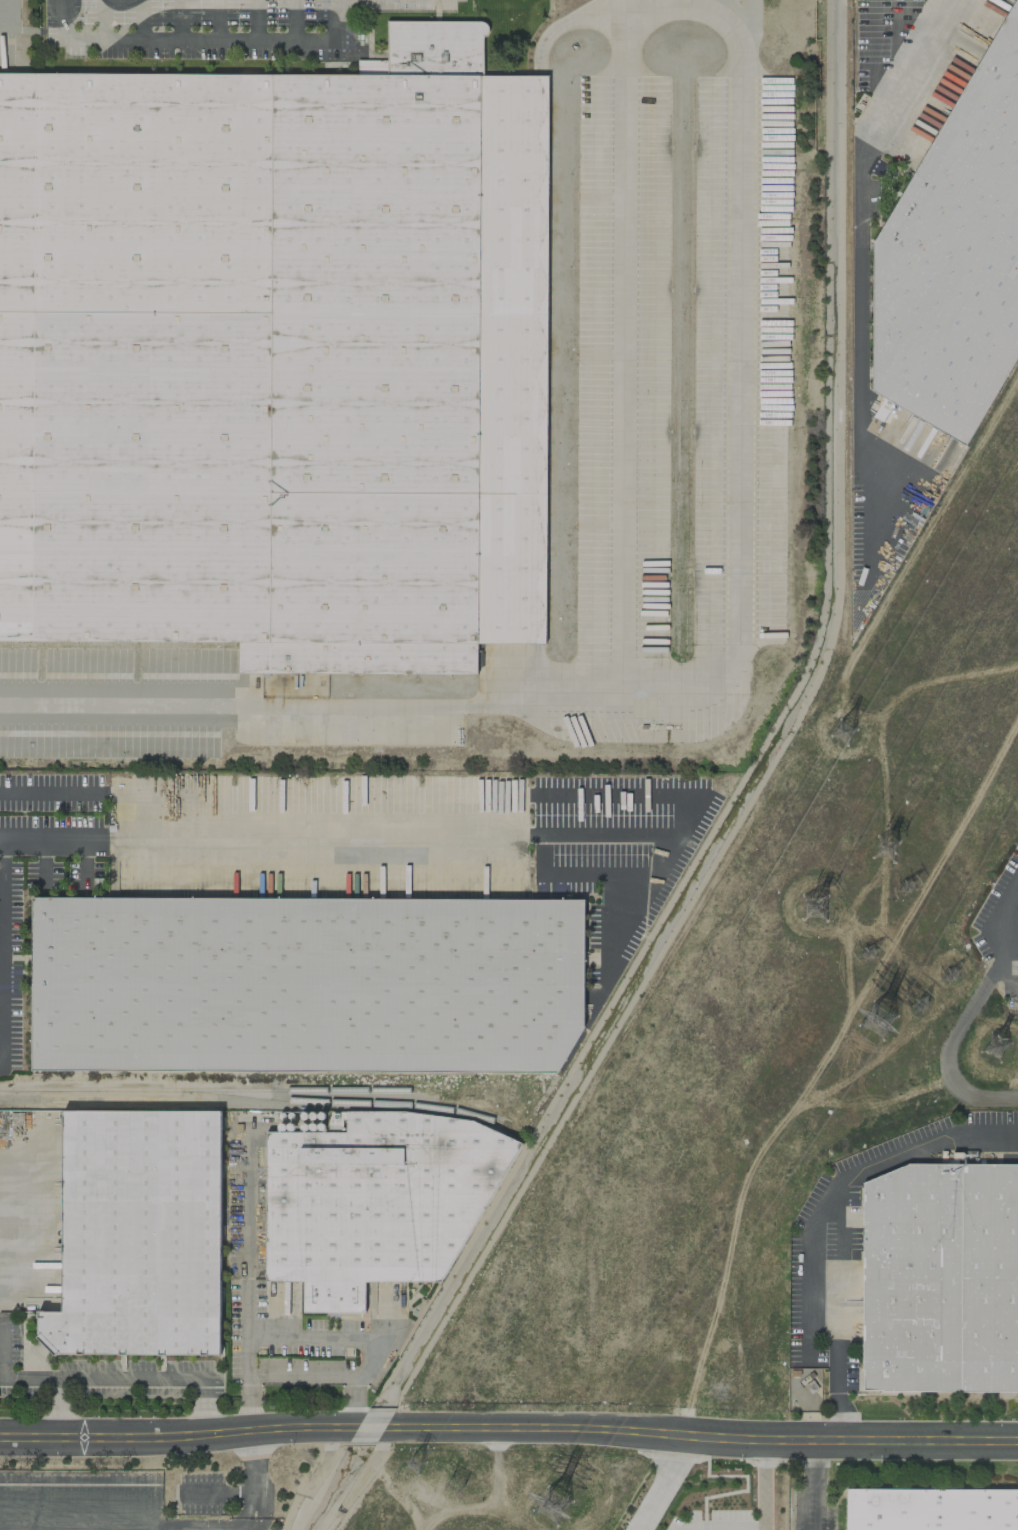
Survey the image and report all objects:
road: (61, 10)
road: (100, 21)
road: (139, 21)
road: (178, 21)
road: (217, 21)
road: (254, 21)
road: (290, 21)
road: (209, 42)
road: (911, 72)
road: (859, 253)
building: (954, 257)
road: (619, 296)
building: (277, 358)
building: (883, 406)
road: (691, 677)
power tower: (847, 728)
road: (32, 790)
road: (65, 835)
road: (339, 835)
power tower: (894, 850)
power tower: (902, 908)
power tower: (815, 910)
power tower: (874, 956)
road: (6, 966)
power tower: (958, 974)
building: (306, 981)
power tower: (925, 1009)
road: (966, 1011)
power tower: (892, 1019)
power tower: (993, 1045)
railway: (307, 1090)
railway: (254, 1096)
building: (375, 1201)
road: (838, 1216)
building: (138, 1233)
building: (940, 1278)
road: (305, 1332)
road: (305, 1372)
road: (3, 1377)
road: (124, 1378)
road: (373, 1426)
road: (178, 1436)
road: (703, 1437)
road: (252, 1460)
power tower: (441, 1473)
road: (652, 1482)
road: (765, 1485)
road: (812, 1485)
power tower: (477, 1487)
road: (215, 1489)
power tower: (563, 1500)
building: (931, 1509)
road: (252, 1510)
road: (720, 1525)
road: (49, 1527)

